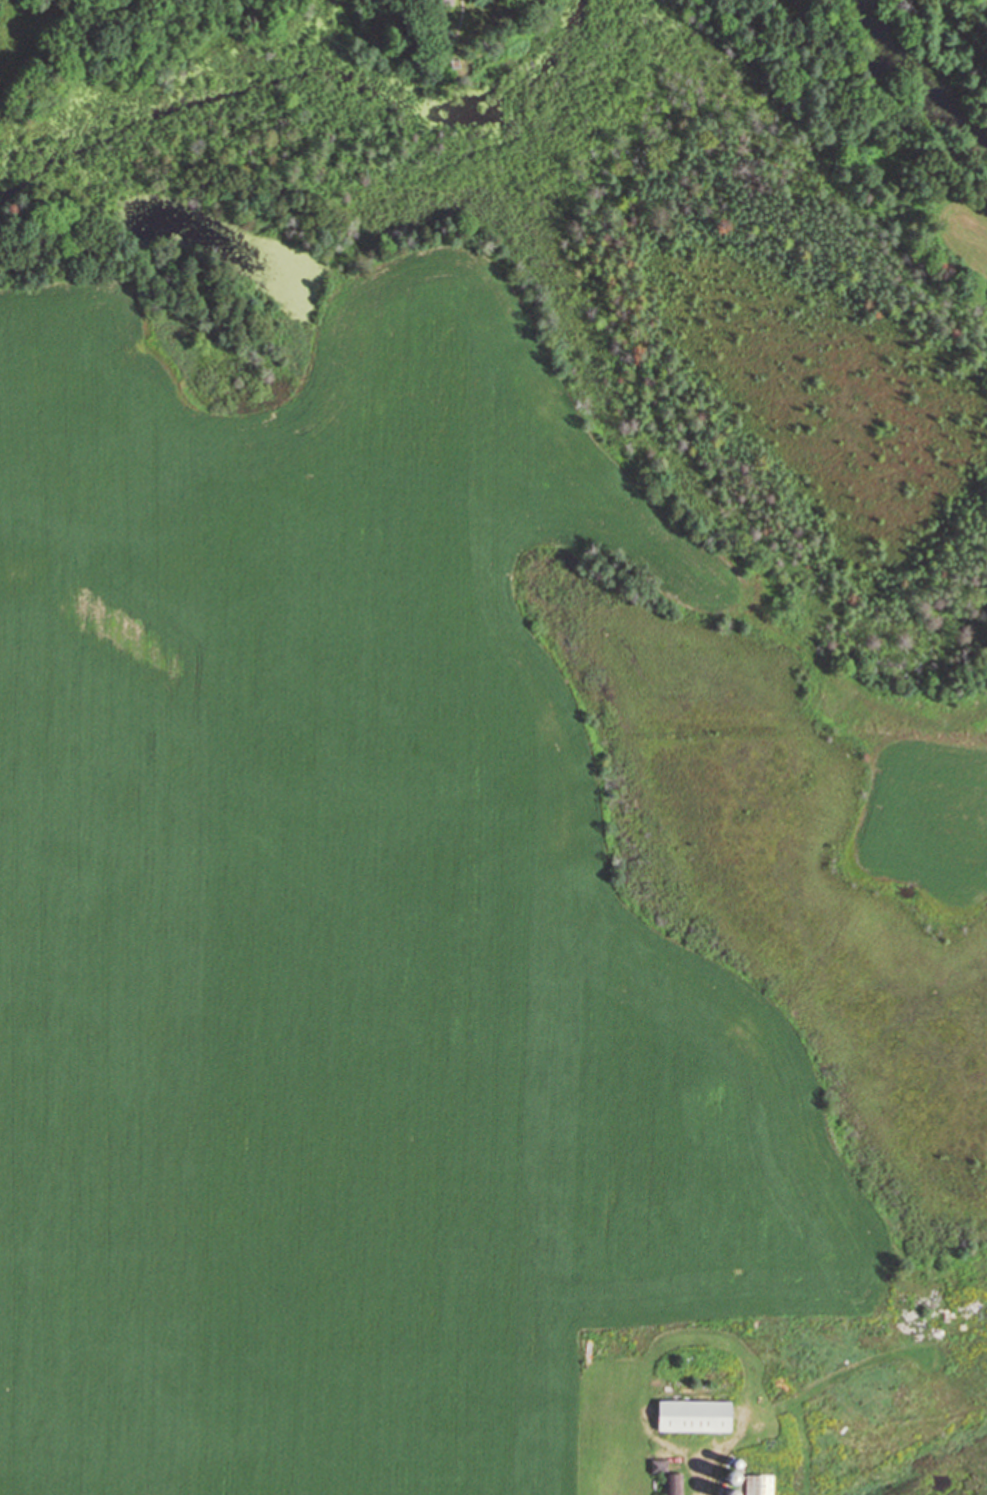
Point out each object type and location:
building: (694, 1407)
building: (672, 1484)
building: (759, 1484)

